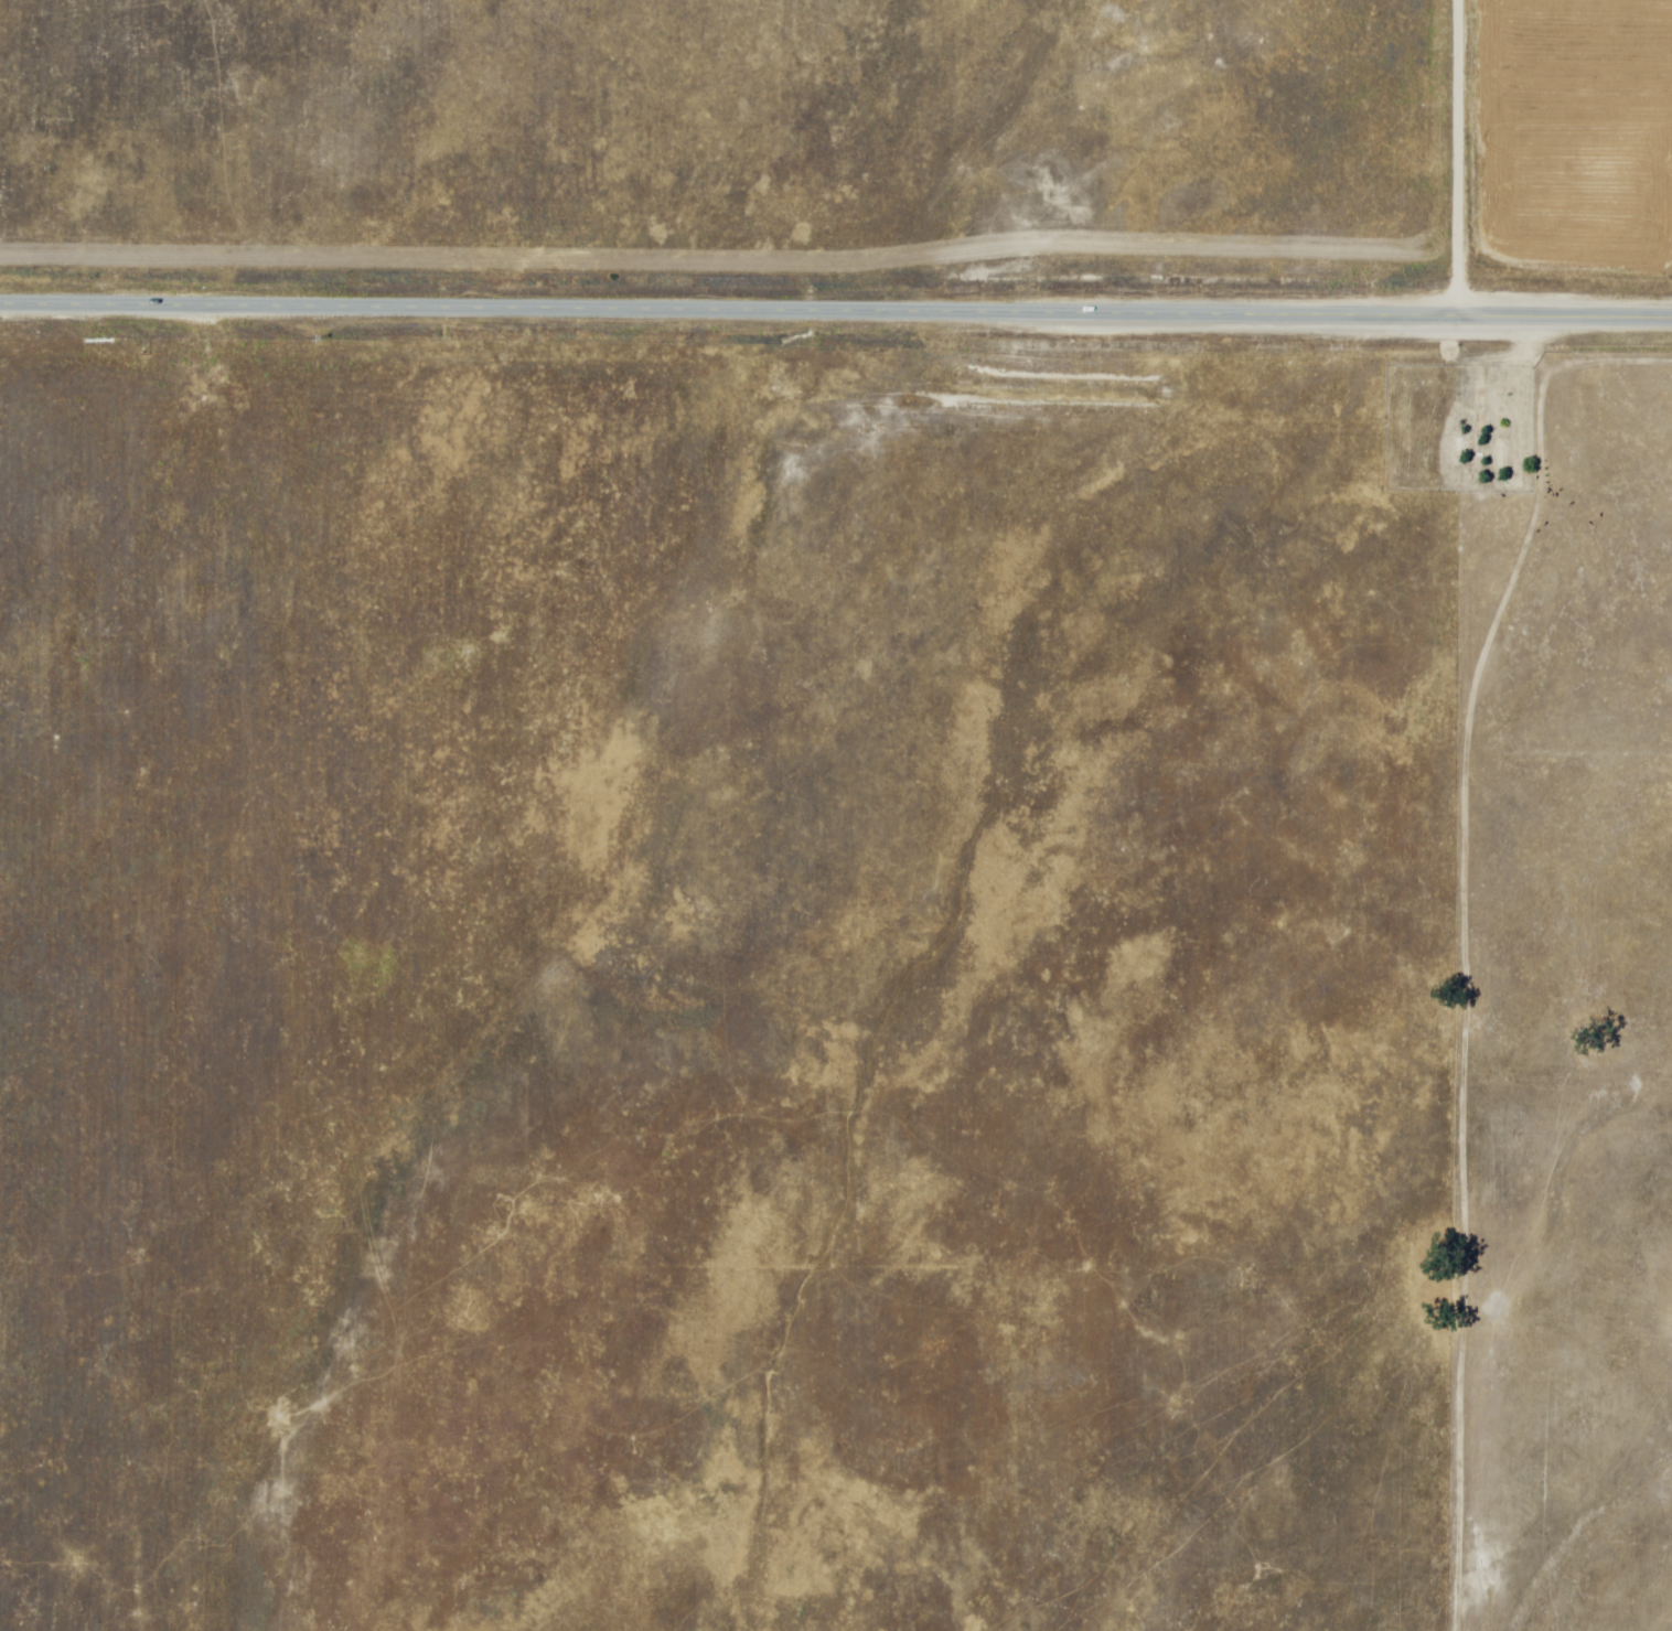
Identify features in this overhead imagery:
road: (1454, 160)
road: (835, 313)
park: (1457, 416)

